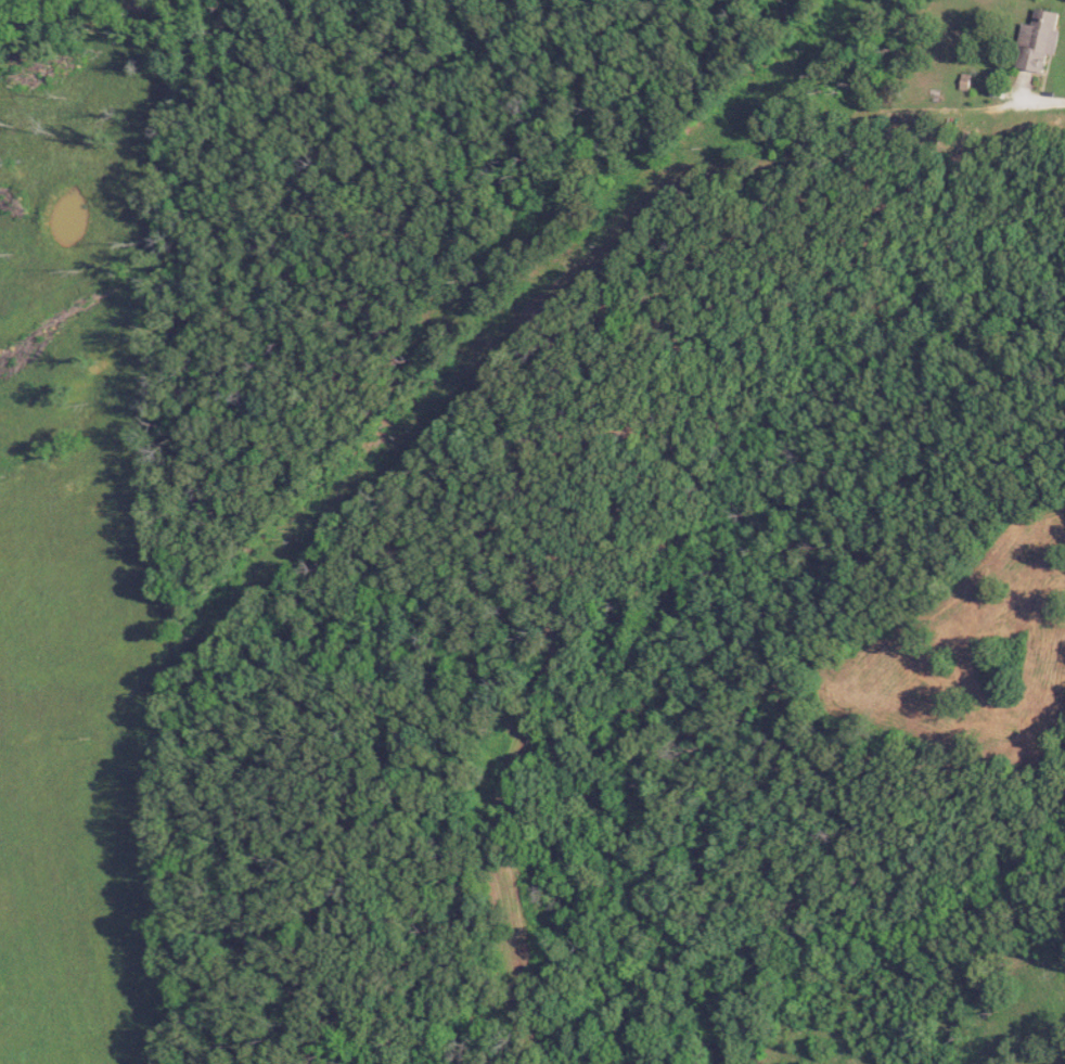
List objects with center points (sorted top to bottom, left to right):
building: (1044, 41)
road: (1051, 102)

